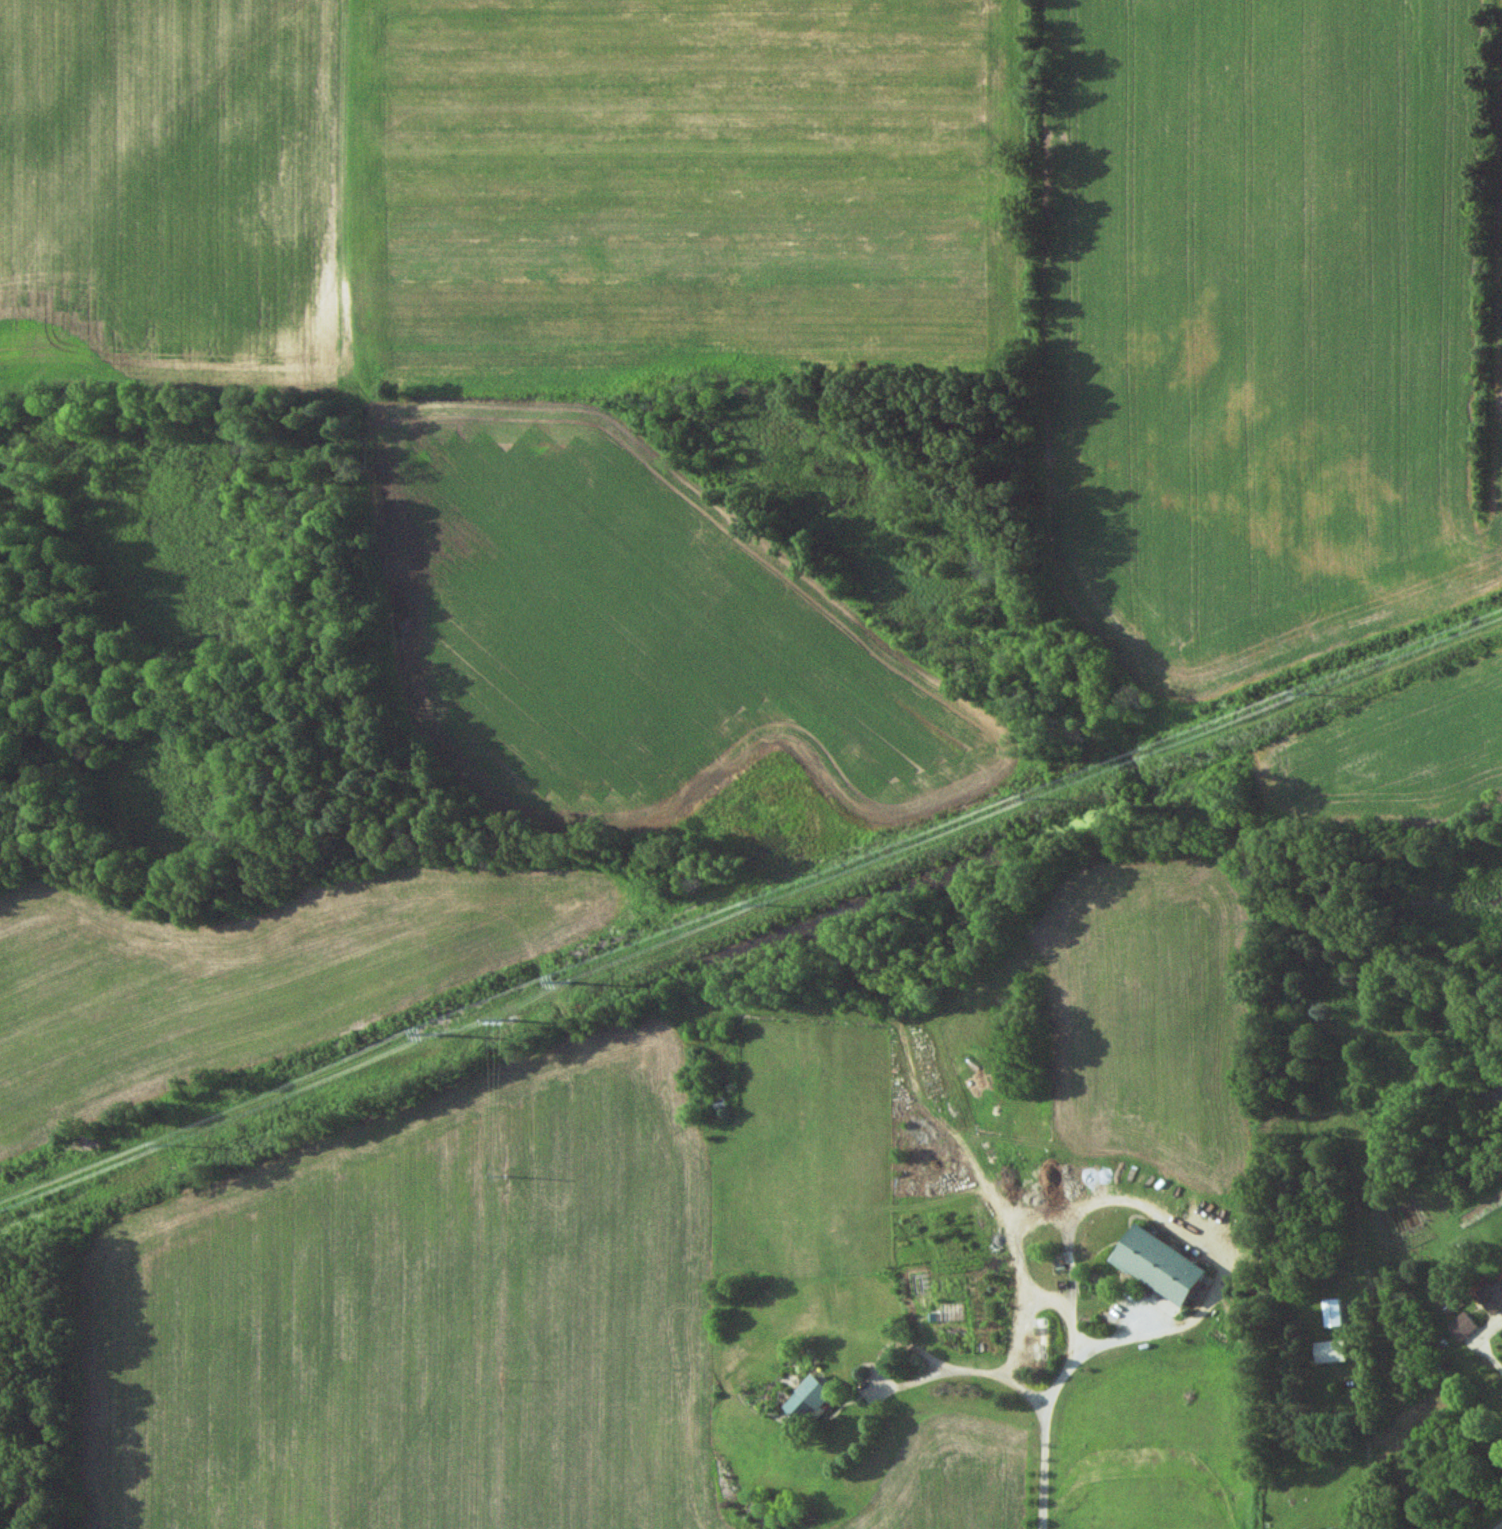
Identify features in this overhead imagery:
building: (719, 1100)
building: (1160, 1265)
building: (1493, 1299)
building: (1331, 1313)
building: (1462, 1326)
building: (1330, 1351)
road: (1486, 1360)
road: (1044, 1394)
building: (813, 1400)

